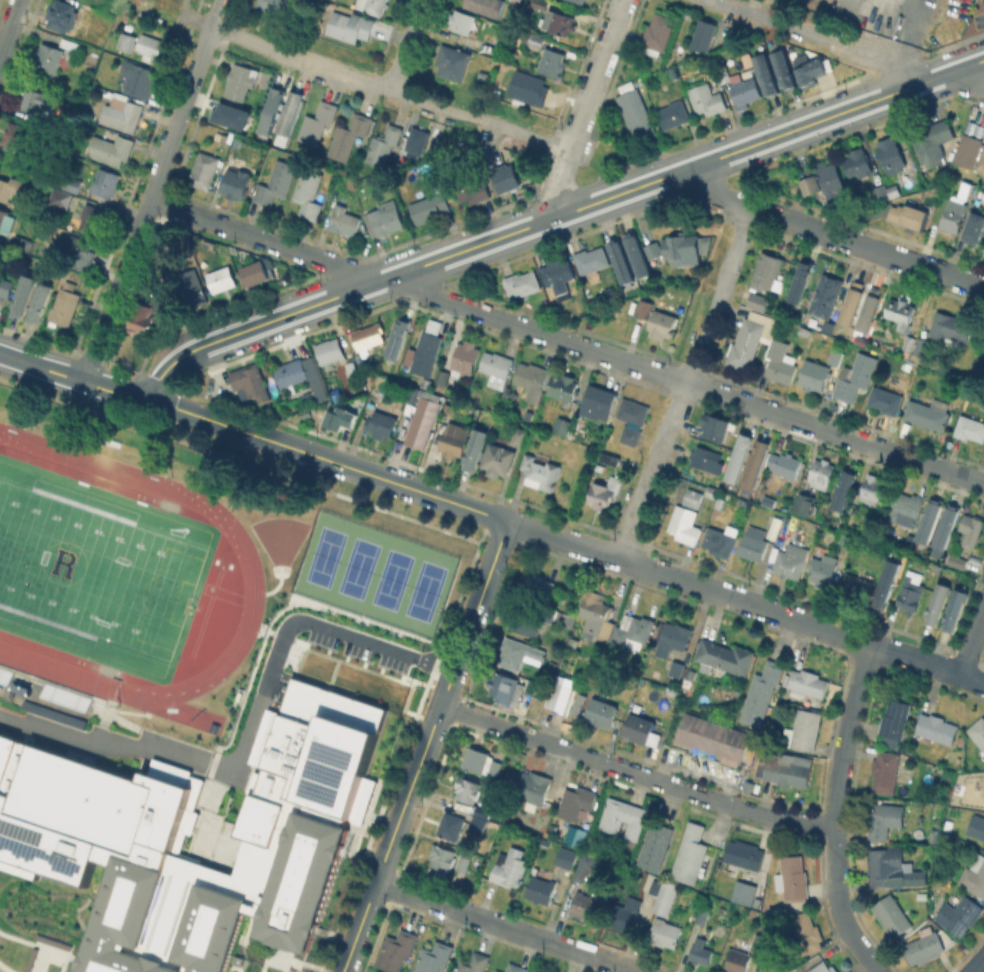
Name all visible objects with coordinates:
building: (517, 0)
building: (580, 1)
building: (541, 3)
building: (274, 5)
building: (372, 5)
building: (485, 6)
road: (910, 9)
building: (62, 15)
building: (462, 21)
building: (559, 21)
building: (350, 25)
road: (9, 27)
building: (658, 33)
building: (704, 35)
building: (534, 38)
road: (828, 38)
building: (127, 41)
building: (70, 43)
road: (407, 44)
building: (495, 44)
building: (152, 47)
building: (50, 56)
building: (552, 61)
building: (452, 62)
building: (784, 66)
building: (814, 70)
building: (767, 71)
building: (724, 74)
building: (137, 78)
building: (241, 81)
road: (962, 83)
road: (390, 88)
building: (528, 88)
building: (745, 90)
building: (707, 99)
building: (37, 101)
road: (585, 107)
building: (274, 108)
building: (293, 111)
building: (637, 113)
building: (674, 113)
building: (122, 115)
building: (233, 115)
building: (317, 123)
building: (22, 135)
building: (349, 135)
building: (931, 140)
building: (417, 141)
building: (383, 145)
building: (111, 148)
building: (968, 150)
building: (892, 154)
building: (981, 161)
building: (858, 163)
building: (205, 170)
building: (506, 177)
building: (831, 178)
building: (105, 181)
building: (72, 182)
building: (236, 182)
building: (277, 182)
building: (810, 184)
building: (10, 187)
building: (470, 187)
road: (152, 191)
building: (309, 192)
building: (880, 192)
road: (711, 194)
building: (61, 197)
building: (429, 206)
building: (953, 209)
building: (909, 215)
road: (198, 217)
road: (555, 217)
building: (93, 218)
building: (6, 220)
building: (344, 220)
building: (387, 220)
building: (974, 224)
building: (22, 244)
road: (865, 246)
building: (685, 248)
building: (79, 250)
building: (983, 251)
building: (653, 253)
building: (638, 256)
building: (591, 259)
building: (63, 260)
building: (622, 261)
building: (173, 270)
building: (767, 271)
building: (259, 273)
building: (558, 276)
building: (221, 278)
building: (799, 280)
building: (519, 284)
building: (576, 286)
building: (5, 288)
building: (25, 291)
building: (192, 295)
building: (855, 300)
building: (758, 301)
building: (39, 302)
building: (66, 304)
building: (830, 305)
building: (644, 308)
building: (872, 308)
building: (148, 312)
building: (901, 313)
building: (662, 324)
building: (951, 328)
building: (806, 332)
building: (369, 335)
building: (398, 337)
building: (751, 339)
building: (909, 342)
building: (922, 346)
building: (329, 350)
building: (983, 352)
building: (426, 353)
building: (983, 355)
building: (835, 357)
building: (465, 358)
road: (616, 358)
building: (780, 361)
building: (907, 365)
building: (496, 369)
building: (300, 374)
building: (815, 375)
building: (856, 376)
building: (441, 377)
road: (74, 378)
building: (529, 379)
building: (249, 382)
road: (687, 383)
building: (381, 385)
building: (560, 386)
building: (886, 399)
building: (598, 402)
building: (337, 414)
building: (927, 415)
building: (632, 419)
building: (420, 420)
building: (381, 424)
building: (718, 424)
building: (562, 425)
building: (970, 428)
building: (520, 436)
building: (455, 439)
building: (476, 447)
building: (740, 454)
building: (610, 458)
road: (328, 459)
building: (498, 459)
building: (706, 459)
building: (759, 461)
building: (784, 464)
building: (540, 472)
building: (820, 473)
track: (81, 475)
building: (845, 488)
building: (872, 488)
building: (712, 492)
building: (604, 494)
building: (693, 498)
building: (766, 500)
building: (801, 503)
building: (905, 508)
building: (931, 519)
building: (685, 523)
building: (772, 527)
building: (946, 529)
building: (971, 530)
road: (564, 540)
building: (719, 542)
building: (751, 543)
building: (817, 549)
park: (323, 555)
building: (957, 557)
building: (790, 560)
building: (830, 561)
park: (278, 567)
park: (357, 567)
park: (97, 569)
park: (94, 570)
stadium: (110, 573)
road: (662, 573)
park: (390, 578)
track: (250, 580)
building: (889, 582)
building: (540, 585)
building: (857, 585)
park: (423, 590)
building: (911, 591)
park: (221, 593)
road: (737, 599)
building: (939, 602)
building: (957, 607)
track: (205, 611)
building: (545, 614)
building: (597, 616)
building: (521, 619)
building: (633, 631)
building: (673, 639)
road: (972, 641)
road: (865, 642)
track: (49, 650)
building: (519, 653)
building: (725, 656)
building: (676, 670)
road: (972, 680)
building: (807, 683)
building: (506, 686)
building: (531, 687)
building: (21, 688)
building: (560, 692)
building: (761, 693)
building: (808, 701)
building: (576, 704)
building: (601, 712)
building: (52, 713)
building: (896, 720)
building: (937, 729)
road: (249, 730)
building: (641, 730)
building: (803, 730)
building: (978, 731)
building: (713, 737)
road: (424, 746)
building: (481, 761)
building: (782, 768)
building: (885, 771)
road: (635, 773)
building: (466, 789)
building: (534, 789)
building: (576, 802)
building: (482, 811)
road: (835, 811)
building: (621, 815)
building: (885, 819)
building: (96, 824)
building: (477, 824)
building: (947, 824)
building: (450, 825)
building: (977, 826)
building: (575, 835)
building: (655, 845)
building: (691, 851)
building: (744, 854)
building: (441, 856)
building: (568, 859)
building: (462, 863)
building: (584, 866)
building: (510, 867)
building: (891, 868)
building: (978, 875)
building: (792, 877)
building: (541, 889)
building: (744, 892)
building: (919, 895)
building: (667, 899)
road: (427, 900)
building: (585, 905)
building: (960, 913)
building: (624, 914)
building: (703, 916)
building: (893, 917)
road: (510, 927)
building: (664, 932)
building: (806, 932)
building: (51, 941)
building: (762, 943)
building: (924, 946)
building: (397, 950)
building: (701, 951)
road: (593, 955)
building: (738, 956)
building: (434, 957)
building: (28, 959)
building: (236, 959)
building: (474, 964)
road: (977, 965)
building: (517, 967)
building: (824, 967)
building: (499, 971)

